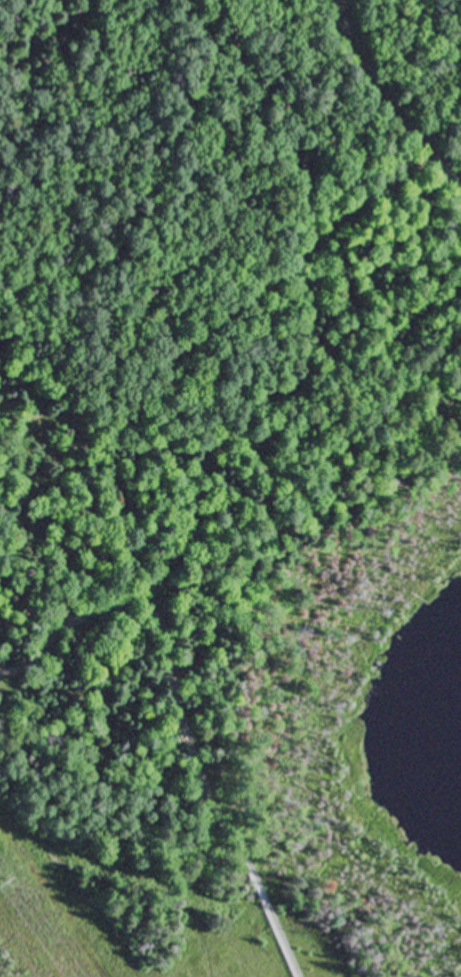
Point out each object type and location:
road: (375, 108)
road: (149, 733)
power tower: (20, 884)
road: (270, 917)

